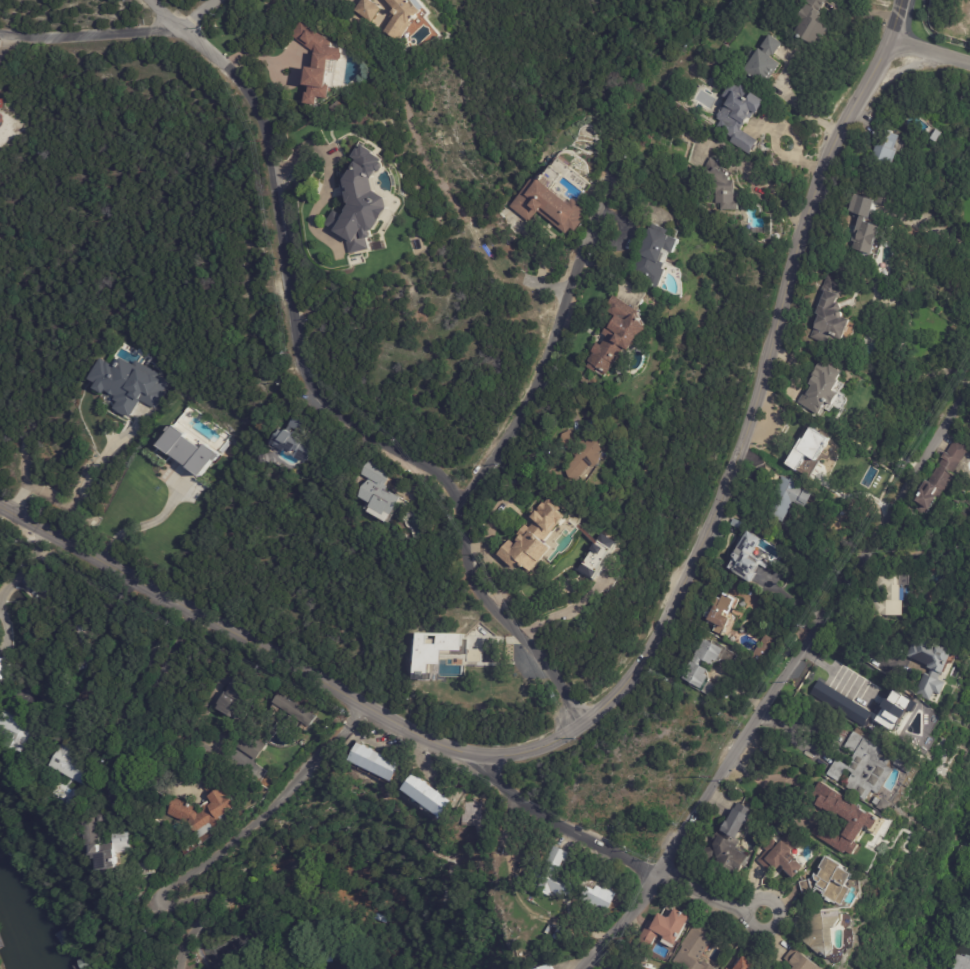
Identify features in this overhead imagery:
building: (969, 2)
building: (364, 11)
road: (198, 12)
road: (897, 20)
building: (410, 23)
building: (810, 23)
road: (97, 40)
road: (929, 52)
building: (320, 59)
building: (762, 62)
building: (740, 116)
building: (928, 134)
building: (882, 151)
building: (722, 190)
building: (552, 197)
building: (882, 200)
building: (371, 204)
road: (936, 229)
building: (865, 238)
building: (656, 254)
building: (830, 312)
building: (616, 337)
road: (554, 340)
building: (128, 384)
building: (821, 389)
road: (318, 394)
building: (299, 439)
building: (188, 449)
building: (807, 451)
building: (578, 457)
building: (940, 474)
building: (383, 489)
building: (784, 498)
road: (69, 507)
road: (144, 525)
building: (532, 541)
building: (743, 555)
road: (918, 555)
road: (22, 564)
building: (884, 596)
building: (721, 616)
building: (968, 616)
building: (86, 638)
road: (854, 644)
building: (434, 649)
building: (763, 649)
building: (474, 655)
building: (698, 663)
building: (927, 665)
building: (2, 669)
road: (830, 671)
road: (778, 678)
building: (63, 681)
road: (620, 686)
building: (235, 698)
building: (840, 705)
road: (141, 710)
building: (295, 711)
building: (894, 711)
building: (20, 728)
road: (199, 736)
building: (254, 747)
road: (118, 750)
building: (241, 756)
building: (379, 762)
building: (78, 767)
building: (861, 767)
building: (433, 797)
building: (79, 798)
building: (879, 805)
road: (272, 809)
building: (213, 810)
building: (470, 810)
building: (857, 816)
road: (567, 820)
building: (776, 821)
building: (95, 834)
building: (731, 841)
building: (779, 856)
building: (551, 877)
building: (831, 880)
road: (708, 894)
building: (597, 898)
building: (664, 930)
building: (818, 934)
building: (563, 937)
building: (694, 949)
building: (798, 961)
building: (746, 964)
building: (645, 967)
building: (544, 968)
building: (727, 968)

